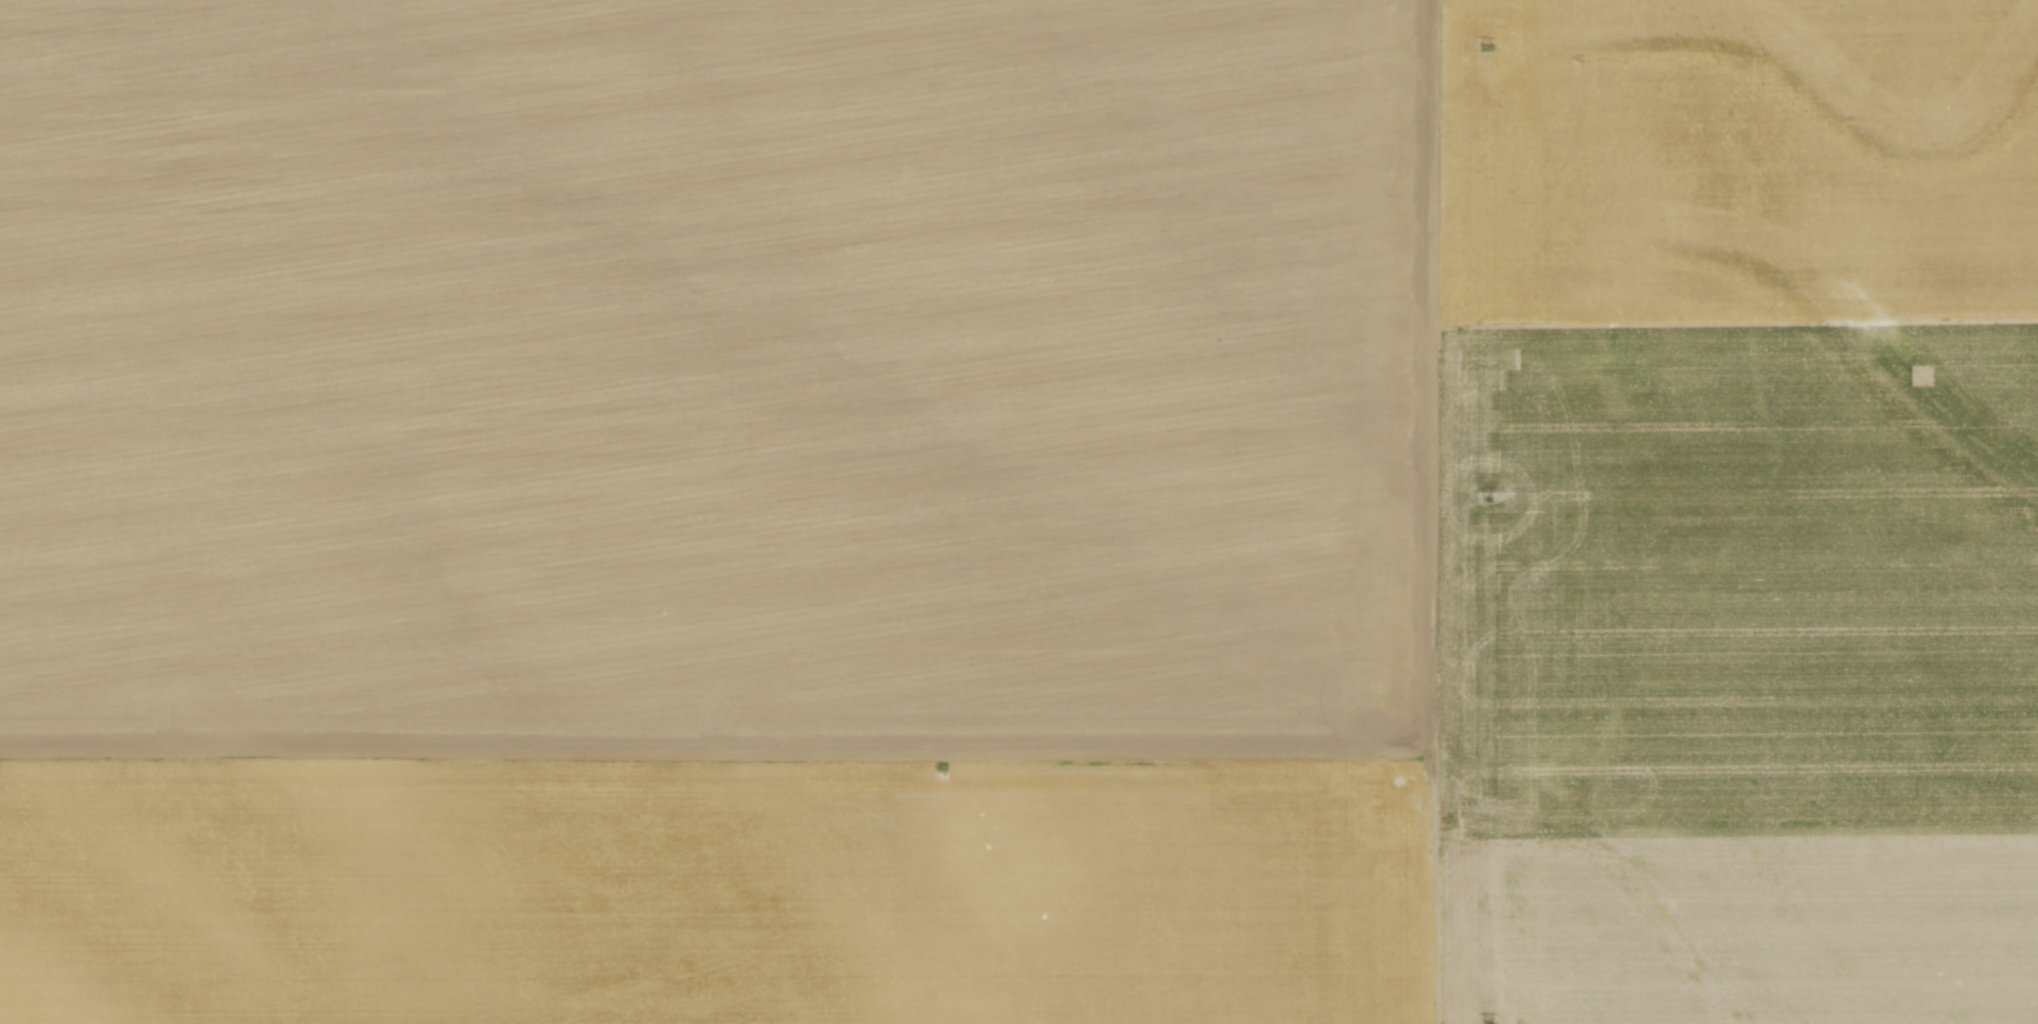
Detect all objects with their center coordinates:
power tower: (1485, 46)
power tower: (1488, 500)
crop: (1019, 512)

